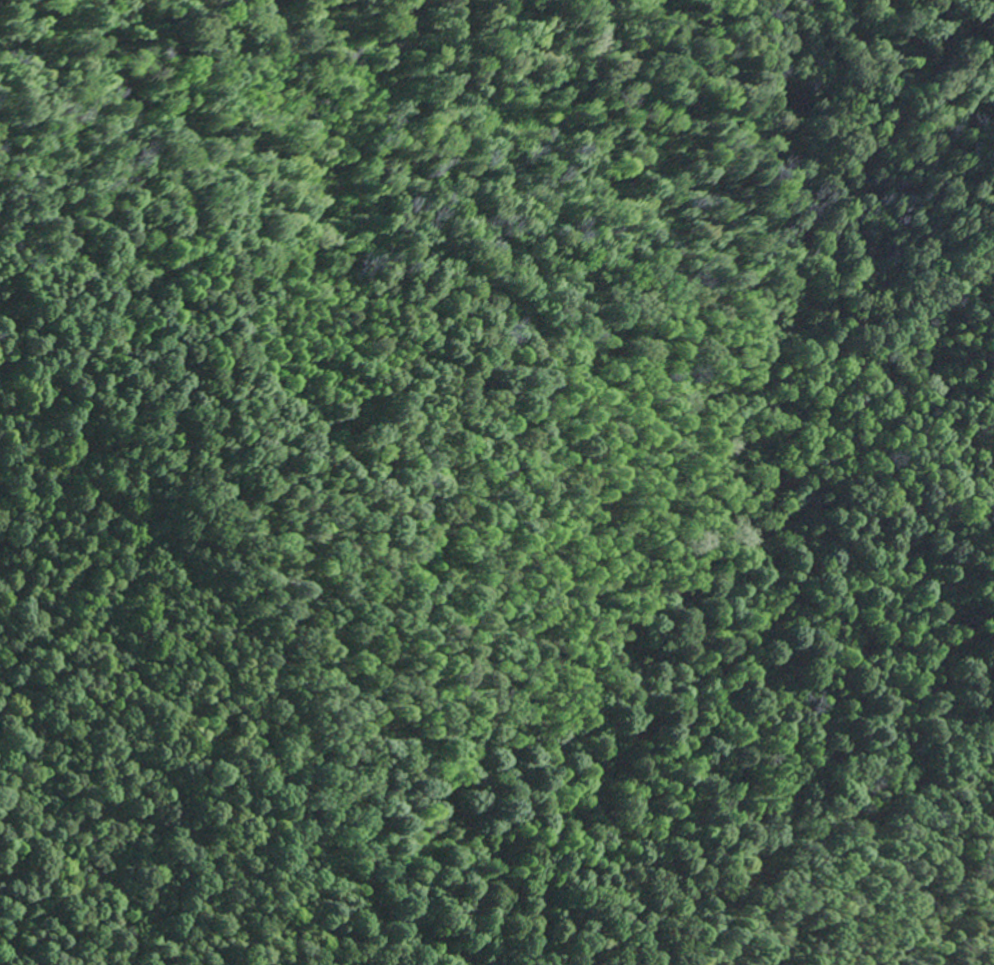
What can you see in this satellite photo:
road: (967, 598)

